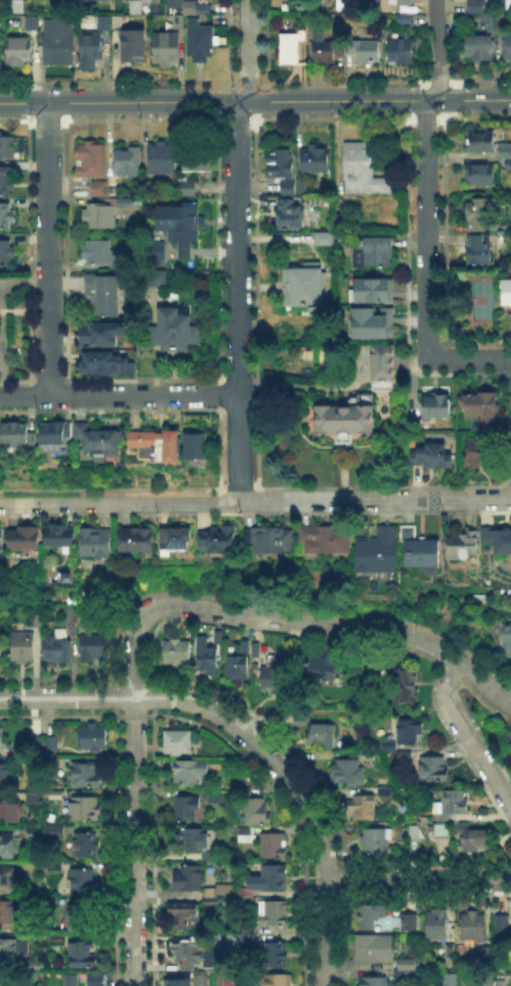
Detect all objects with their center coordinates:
building: (60, 0)
building: (155, 0)
building: (176, 3)
building: (400, 3)
building: (373, 4)
building: (17, 5)
building: (340, 5)
building: (473, 5)
building: (505, 6)
building: (189, 7)
building: (204, 9)
building: (404, 19)
building: (488, 20)
building: (178, 21)
building: (103, 23)
building: (116, 23)
building: (31, 24)
building: (201, 41)
building: (58, 43)
building: (133, 44)
building: (475, 45)
building: (507, 45)
building: (165, 48)
building: (291, 49)
building: (322, 49)
building: (90, 50)
road: (438, 50)
road: (248, 51)
building: (18, 52)
building: (365, 52)
building: (401, 52)
road: (255, 100)
building: (480, 143)
building: (6, 147)
building: (505, 149)
building: (162, 159)
building: (198, 159)
building: (91, 160)
building: (314, 161)
building: (126, 164)
building: (279, 165)
building: (508, 165)
building: (361, 168)
building: (482, 176)
building: (5, 184)
building: (292, 186)
building: (188, 189)
building: (99, 190)
building: (289, 213)
building: (479, 214)
building: (100, 216)
building: (5, 217)
building: (338, 218)
building: (179, 226)
road: (425, 229)
building: (322, 240)
road: (47, 249)
building: (154, 250)
building: (478, 252)
building: (99, 253)
building: (373, 253)
building: (5, 255)
building: (155, 281)
building: (304, 286)
building: (369, 289)
building: (506, 292)
building: (103, 294)
road: (237, 300)
building: (368, 324)
building: (174, 330)
building: (98, 331)
road: (469, 358)
building: (107, 362)
building: (383, 369)
road: (303, 387)
road: (118, 395)
building: (437, 407)
building: (482, 408)
building: (344, 423)
building: (53, 433)
building: (16, 435)
building: (96, 438)
building: (158, 445)
building: (196, 450)
building: (484, 450)
building: (432, 457)
road: (221, 495)
road: (374, 500)
road: (103, 503)
road: (222, 506)
building: (59, 536)
building: (0, 539)
building: (23, 539)
building: (175, 539)
building: (325, 539)
building: (137, 540)
building: (218, 540)
building: (268, 540)
building: (497, 541)
building: (95, 543)
building: (463, 545)
building: (423, 551)
building: (377, 553)
building: (68, 578)
road: (506, 593)
building: (67, 614)
building: (37, 620)
road: (295, 620)
building: (217, 638)
building: (506, 642)
building: (23, 646)
building: (245, 646)
building: (0, 647)
building: (95, 649)
building: (59, 651)
building: (256, 651)
building: (177, 652)
building: (206, 657)
building: (318, 664)
building: (236, 668)
building: (403, 674)
building: (272, 675)
road: (67, 697)
building: (300, 718)
building: (321, 733)
building: (409, 733)
building: (93, 738)
road: (464, 738)
building: (2, 739)
building: (53, 743)
building: (178, 743)
road: (263, 752)
building: (369, 755)
building: (344, 768)
building: (434, 768)
building: (187, 772)
building: (85, 774)
building: (6, 776)
building: (31, 796)
building: (218, 797)
building: (453, 805)
building: (362, 807)
building: (85, 809)
building: (187, 809)
building: (10, 810)
building: (258, 813)
building: (30, 830)
building: (243, 830)
building: (413, 832)
building: (442, 832)
building: (54, 834)
road: (134, 841)
building: (377, 841)
building: (196, 843)
building: (477, 843)
building: (9, 845)
building: (86, 845)
building: (274, 846)
road: (418, 878)
building: (6, 879)
building: (189, 879)
building: (269, 879)
building: (82, 883)
building: (220, 888)
building: (50, 904)
building: (9, 912)
building: (274, 914)
building: (184, 915)
building: (373, 916)
building: (78, 918)
building: (406, 920)
building: (501, 923)
building: (436, 925)
building: (473, 927)
road: (324, 932)
building: (247, 933)
building: (56, 942)
building: (373, 948)
building: (9, 951)
building: (487, 952)
building: (188, 953)
building: (82, 955)
building: (276, 956)
building: (34, 965)
building: (406, 968)
building: (485, 978)
building: (98, 980)
building: (202, 980)
building: (278, 980)
building: (450, 980)
building: (72, 981)
building: (176, 982)
building: (374, 982)
building: (1, 984)
building: (36, 985)

